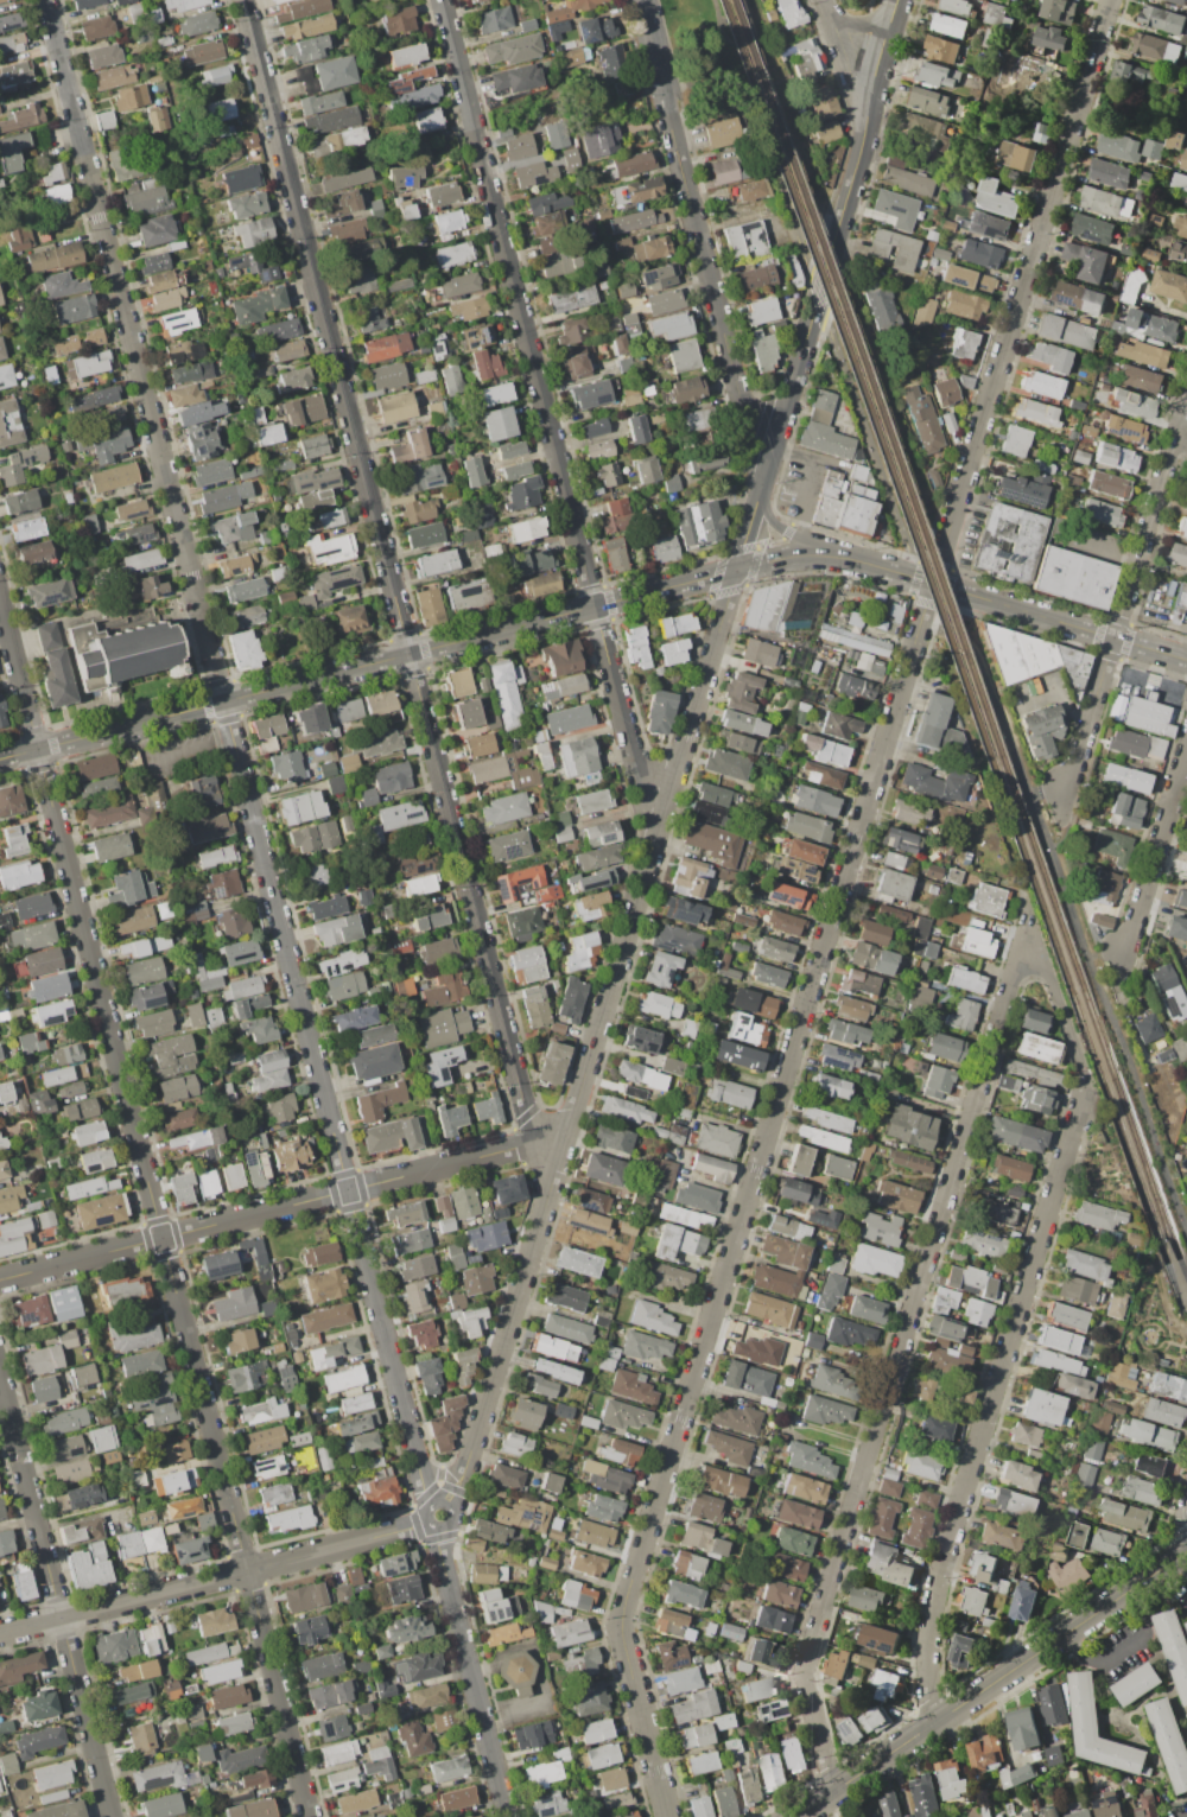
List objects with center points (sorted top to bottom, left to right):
building: (2, 0)
building: (122, 1)
building: (279, 1)
building: (476, 1)
building: (1176, 1)
building: (87, 4)
building: (191, 4)
road: (893, 6)
building: (956, 7)
building: (137, 8)
building: (304, 8)
road: (826, 8)
building: (570, 9)
building: (1058, 12)
building: (1186, 12)
building: (157, 14)
building: (791, 14)
building: (770, 15)
building: (994, 17)
building: (15, 20)
building: (494, 20)
building: (1162, 20)
building: (399, 21)
building: (198, 23)
building: (527, 25)
road: (861, 25)
building: (307, 26)
building: (560, 26)
building: (948, 26)
building: (97, 28)
building: (596, 28)
road: (736, 39)
building: (988, 39)
building: (1052, 39)
building: (165, 42)
building: (12, 45)
building: (307, 49)
building: (1156, 49)
building: (514, 50)
building: (941, 50)
road: (1094, 50)
building: (203, 52)
building: (406, 55)
park: (723, 55)
building: (103, 56)
building: (572, 56)
road: (712, 57)
road: (658, 61)
building: (806, 62)
road: (876, 62)
building: (610, 63)
road: (457, 64)
road: (848, 65)
building: (1029, 72)
building: (335, 74)
building: (1130, 74)
building: (14, 75)
building: (935, 75)
building: (216, 76)
building: (113, 77)
building: (516, 77)
road: (262, 78)
building: (155, 80)
building: (399, 85)
building: (621, 88)
road: (66, 90)
building: (1172, 91)
building: (132, 96)
building: (926, 101)
building: (320, 102)
building: (823, 102)
building: (221, 109)
building: (21, 117)
building: (332, 119)
building: (106, 120)
building: (158, 120)
building: (425, 120)
building: (719, 129)
building: (223, 131)
building: (825, 131)
building: (929, 132)
building: (1040, 134)
building: (554, 135)
building: (598, 139)
building: (1172, 139)
building: (249, 140)
building: (336, 141)
building: (1116, 146)
building: (518, 147)
building: (1150, 148)
building: (11, 151)
building: (1015, 157)
building: (569, 158)
building: (1183, 160)
building: (629, 164)
building: (125, 165)
building: (723, 171)
building: (53, 172)
park: (789, 172)
building: (532, 173)
building: (1107, 173)
building: (405, 176)
building: (1144, 176)
building: (241, 178)
building: (344, 179)
building: (908, 180)
building: (1178, 182)
building: (0, 183)
building: (634, 190)
building: (751, 190)
building: (442, 193)
building: (56, 195)
building: (1140, 195)
building: (994, 197)
building: (146, 199)
building: (339, 203)
building: (545, 203)
building: (1107, 204)
building: (246, 205)
building: (893, 208)
building: (405, 209)
building: (602, 214)
building: (45, 218)
rooftop solar panel: (1156, 218)
building: (1153, 220)
building: (631, 221)
building: (446, 222)
building: (545, 223)
building: (946, 225)
building: (984, 225)
building: (1180, 225)
building: (1092, 229)
building: (155, 230)
building: (252, 230)
building: (452, 234)
building: (929, 235)
building: (19, 239)
building: (353, 241)
building: (744, 241)
building: (621, 243)
building: (174, 244)
building: (649, 247)
building: (1125, 248)
building: (1176, 250)
building: (907, 252)
building: (453, 254)
building: (939, 254)
building: (979, 254)
building: (1149, 255)
building: (55, 258)
rooftop solar panel: (233, 261)
building: (931, 261)
building: (1086, 261)
building: (557, 262)
building: (154, 263)
building: (252, 266)
rooftop solar panel: (264, 274)
rooftop solar panel: (645, 275)
building: (656, 275)
building: (754, 278)
building: (966, 279)
building: (161, 280)
rooftop solar panel: (954, 280)
building: (358, 281)
building: (398, 284)
building: (61, 285)
building: (459, 285)
building: (1112, 285)
building: (1130, 285)
building: (1168, 285)
rooftop solar panel: (980, 286)
building: (623, 290)
road: (711, 290)
building: (1077, 298)
building: (166, 299)
building: (571, 299)
rooftop solar panel: (1062, 299)
building: (662, 300)
building: (0, 301)
building: (0, 304)
road: (814, 304)
building: (256, 305)
building: (963, 305)
building: (72, 309)
building: (468, 309)
building: (881, 309)
building: (760, 311)
building: (921, 312)
rooftop solar panel: (173, 313)
building: (627, 318)
building: (368, 319)
building: (1083, 320)
building: (176, 322)
rooftop solar panel: (180, 324)
building: (668, 325)
building: (1144, 326)
building: (279, 330)
building: (630, 330)
building: (570, 331)
building: (1066, 332)
rooftop solar panel: (482, 333)
building: (475, 336)
building: (93, 337)
rooftop solar panel: (477, 338)
building: (617, 343)
building: (963, 343)
building: (64, 345)
building: (385, 347)
building: (438, 347)
building: (288, 350)
building: (1, 352)
building: (183, 352)
building: (762, 352)
building: (1143, 354)
building: (681, 355)
building: (1049, 357)
building: (575, 362)
building: (85, 364)
building: (483, 364)
building: (191, 371)
building: (255, 374)
building: (386, 375)
building: (5, 376)
building: (424, 376)
railway: (868, 379)
building: (1140, 379)
building: (293, 380)
building: (451, 380)
railway: (856, 380)
building: (1104, 380)
building: (647, 381)
building: (964, 381)
building: (1042, 385)
building: (1102, 387)
building: (646, 389)
building: (684, 389)
building: (944, 392)
building: (589, 393)
building: (186, 394)
building: (494, 394)
rooftop solar panel: (596, 398)
building: (93, 399)
building: (1131, 402)
building: (1074, 405)
building: (394, 407)
building: (301, 409)
building: (436, 411)
building: (199, 412)
building: (1036, 412)
building: (102, 414)
building: (255, 417)
building: (654, 418)
park: (878, 418)
building: (693, 420)
building: (947, 421)
building: (8, 424)
building: (497, 424)
building: (923, 424)
building: (592, 427)
building: (823, 427)
building: (636, 428)
building: (1123, 428)
building: (1087, 430)
rooftop solar panel: (1121, 432)
building: (267, 434)
building: (1071, 434)
building: (199, 440)
building: (1015, 440)
road: (1180, 440)
building: (103, 443)
building: (64, 446)
building: (313, 446)
building: (408, 447)
building: (598, 449)
building: (508, 450)
building: (1079, 456)
building: (1115, 457)
building: (704, 462)
building: (20, 464)
building: (1041, 466)
building: (645, 469)
building: (515, 470)
road: (560, 471)
building: (210, 472)
building: (471, 472)
building: (246, 474)
building: (607, 474)
road: (817, 476)
building: (112, 477)
building: (419, 478)
building: (312, 479)
rooftop solar panel: (329, 481)
rooftop solar panel: (432, 481)
rooftop solar panel: (320, 483)
building: (669, 483)
rooftop solar panel: (303, 484)
rooftop solar panel: (317, 484)
building: (1106, 484)
building: (1022, 488)
building: (446, 493)
building: (521, 493)
rooftop solar panel: (1001, 495)
rooftop solar panel: (1018, 496)
building: (224, 497)
building: (829, 498)
building: (313, 500)
building: (19, 501)
rooftop solar panel: (1030, 501)
building: (1186, 506)
building: (131, 509)
building: (787, 509)
building: (418, 510)
building: (855, 512)
building: (1100, 512)
building: (481, 515)
building: (615, 515)
building: (328, 520)
building: (697, 523)
building: (87, 525)
building: (231, 527)
building: (1182, 528)
building: (26, 529)
building: (525, 529)
road: (745, 532)
building: (133, 534)
building: (423, 535)
building: (266, 536)
road: (799, 539)
traffic signals: (743, 544)
building: (1007, 544)
building: (329, 547)
building: (662, 548)
road: (1096, 552)
building: (31, 553)
building: (612, 553)
building: (1175, 554)
road: (796, 558)
building: (139, 560)
building: (433, 563)
building: (528, 563)
building: (233, 566)
building: (278, 574)
building: (102, 576)
building: (1073, 577)
building: (334, 579)
building: (538, 585)
building: (150, 587)
building: (243, 590)
rooftop solar panel: (465, 590)
road: (1128, 591)
building: (49, 592)
building: (466, 597)
traffic signals: (728, 597)
building: (284, 598)
building: (304, 603)
building: (1178, 603)
building: (763, 606)
building: (427, 608)
road: (1022, 610)
building: (248, 615)
road: (954, 616)
building: (349, 620)
building: (675, 624)
building: (852, 640)
building: (635, 647)
building: (241, 649)
building: (672, 650)
building: (757, 653)
building: (1002, 653)
building: (1033, 653)
building: (127, 654)
building: (560, 656)
road: (411, 660)
building: (865, 662)
road: (368, 665)
building: (812, 666)
building: (53, 668)
building: (1071, 668)
building: (656, 671)
building: (458, 682)
building: (788, 682)
building: (853, 686)
building: (561, 687)
building: (503, 691)
building: (738, 691)
building: (826, 698)
building: (377, 701)
building: (801, 706)
building: (348, 710)
building: (659, 711)
building: (466, 713)
building: (1145, 714)
building: (1, 717)
building: (309, 717)
building: (798, 717)
building: (565, 718)
building: (290, 720)
building: (491, 722)
building: (741, 723)
building: (838, 725)
building: (332, 730)
building: (1039, 730)
building: (939, 731)
building: (266, 732)
building: (379, 742)
building: (736, 742)
building: (1135, 744)
building: (477, 745)
building: (775, 750)
building: (825, 750)
parking lot: (178, 755)
building: (541, 756)
building: (577, 756)
building: (132, 758)
road: (170, 760)
road: (979, 762)
building: (724, 763)
building: (286, 765)
building: (93, 767)
building: (345, 767)
building: (326, 768)
building: (502, 769)
building: (823, 775)
building: (389, 777)
building: (1124, 779)
building: (935, 782)
building: (335, 784)
building: (97, 786)
building: (203, 790)
road: (1045, 790)
building: (712, 794)
building: (366, 796)
building: (9, 799)
building: (591, 801)
building: (813, 801)
building: (150, 802)
building: (300, 808)
building: (504, 808)
building: (1124, 809)
building: (108, 812)
building: (909, 812)
building: (706, 813)
building: (400, 814)
rooftop solar panel: (412, 814)
building: (560, 820)
building: (345, 822)
building: (805, 827)
building: (207, 828)
rooftop solar panel: (220, 828)
building: (599, 833)
building: (561, 834)
building: (372, 836)
building: (312, 837)
building: (13, 839)
building: (897, 839)
road: (259, 840)
building: (712, 843)
building: (506, 845)
building: (1111, 845)
road: (1156, 846)
building: (109, 847)
rooftop solar panel: (509, 851)
building: (800, 851)
building: (216, 856)
building: (595, 856)
building: (891, 859)
park: (1041, 862)
building: (414, 863)
building: (1185, 865)
building: (793, 870)
building: (932, 871)
building: (18, 873)
building: (311, 875)
building: (176, 876)
building: (687, 876)
building: (952, 876)
rooftop solar panel: (521, 881)
building: (589, 881)
building: (516, 882)
building: (222, 883)
building: (419, 884)
rooftop solar panel: (533, 884)
building: (1105, 884)
building: (890, 885)
building: (127, 889)
rooftop solar panel: (501, 890)
rooftop solar panel: (514, 891)
rooftop solar panel: (217, 892)
building: (753, 894)
building: (788, 895)
building: (364, 897)
railway: (1050, 897)
building: (988, 898)
building: (1180, 898)
railway: (1039, 901)
building: (31, 906)
building: (590, 906)
building: (325, 907)
building: (164, 909)
building: (389, 910)
building: (680, 910)
building: (926, 910)
building: (890, 913)
building: (191, 914)
rooftop solar panel: (679, 915)
building: (427, 916)
building: (132, 920)
building: (1099, 920)
building: (4, 921)
building: (742, 921)
building: (783, 922)
building: (231, 923)
building: (521, 923)
building: (920, 928)
building: (1175, 928)
building: (335, 929)
building: (871, 932)
building: (30, 935)
building: (674, 939)
building: (977, 942)
building: (144, 945)
building: (399, 946)
building: (737, 946)
building: (774, 948)
building: (915, 948)
building: (928, 948)
building: (437, 949)
building: (579, 951)
building: (239, 952)
road: (1103, 953)
road: (820, 957)
building: (871, 958)
building: (341, 961)
building: (37, 962)
building: (527, 965)
building: (724, 966)
building: (921, 967)
building: (659, 968)
building: (142, 971)
building: (204, 973)
building: (767, 974)
building: (921, 980)
building: (964, 980)
building: (858, 981)
building: (45, 986)
building: (342, 986)
building: (404, 986)
building: (241, 987)
building: (443, 990)
building: (4, 991)
building: (1168, 992)
building: (147, 995)
building: (918, 997)
building: (570, 999)
building: (751, 1002)
rooftop solar panel: (152, 1004)
building: (247, 1004)
building: (656, 1005)
building: (534, 1006)
rooftop solar panel: (1169, 1006)
building: (850, 1008)
road: (1060, 1008)
building: (50, 1012)
rooftop solar panel: (65, 1012)
building: (13, 1014)
building: (960, 1015)
building: (192, 1016)
building: (211, 1016)
building: (353, 1017)
building: (1032, 1019)
rooftop solar panel: (50, 1021)
building: (152, 1023)
building: (440, 1027)
building: (258, 1028)
building: (1147, 1028)
building: (745, 1029)
building: (843, 1031)
building: (369, 1036)
road: (597, 1036)
building: (640, 1040)
building: (28, 1042)
building: (944, 1046)
building: (1036, 1048)
building: (1179, 1049)
building: (64, 1054)
rooftop solar panel: (844, 1054)
building: (169, 1055)
building: (736, 1055)
building: (1162, 1055)
building: (837, 1056)
building: (0, 1057)
building: (233, 1057)
building: (268, 1060)
building: (372, 1062)
building: (551, 1062)
rooftop solar panel: (833, 1062)
building: (439, 1065)
building: (671, 1066)
building: (1032, 1070)
building: (62, 1074)
building: (640, 1074)
building: (867, 1075)
building: (268, 1080)
building: (937, 1081)
building: (483, 1082)
building: (1007, 1082)
building: (827, 1085)
building: (177, 1087)
building: (70, 1088)
building: (633, 1092)
building: (888, 1092)
building: (5, 1093)
building: (726, 1093)
building: (685, 1099)
building: (1035, 1099)
building: (38, 1101)
building: (379, 1101)
road: (1081, 1103)
building: (19, 1106)
building: (171, 1107)
building: (278, 1107)
building: (487, 1108)
building: (77, 1110)
building: (623, 1110)
building: (449, 1118)
building: (179, 1119)
building: (827, 1119)
building: (907, 1126)
building: (249, 1130)
building: (87, 1132)
building: (284, 1132)
building: (658, 1132)
building: (228, 1133)
building: (674, 1133)
building: (1014, 1133)
building: (391, 1136)
building: (195, 1138)
building: (611, 1138)
building: (821, 1138)
building: (715, 1139)
building: (2, 1143)
railway: (1140, 1149)
railway: (1129, 1152)
building: (6, 1154)
building: (210, 1154)
building: (288, 1155)
rooftop solar panel: (247, 1157)
building: (798, 1160)
building: (93, 1161)
building: (908, 1161)
building: (52, 1163)
rooftop solar panel: (93, 1167)
building: (711, 1167)
building: (836, 1167)
building: (1008, 1167)
building: (254, 1168)
building: (2, 1169)
building: (605, 1169)
building: (661, 1175)
building: (230, 1176)
building: (205, 1183)
building: (88, 1187)
building: (180, 1188)
building: (506, 1188)
building: (796, 1190)
building: (1013, 1192)
building: (895, 1196)
building: (9, 1197)
building: (696, 1197)
building: (589, 1199)
building: (463, 1202)
building: (442, 1205)
building: (32, 1206)
rooftop solar panel: (586, 1207)
road: (154, 1208)
road: (280, 1208)
building: (100, 1211)
building: (405, 1213)
building: (483, 1213)
building: (497, 1213)
building: (996, 1213)
building: (681, 1215)
building: (1096, 1215)
building: (823, 1218)
building: (44, 1219)
rooftop solar panel: (99, 1220)
building: (588, 1221)
building: (445, 1225)
building: (627, 1227)
building: (787, 1227)
building: (878, 1230)
building: (13, 1233)
building: (484, 1235)
building: (1134, 1239)
building: (673, 1240)
building: (408, 1241)
building: (979, 1241)
building: (451, 1249)
building: (785, 1251)
building: (319, 1253)
building: (255, 1256)
building: (874, 1259)
building: (456, 1262)
building: (577, 1262)
building: (217, 1264)
building: (833, 1264)
building: (1083, 1264)
building: (996, 1266)
building: (414, 1268)
building: (664, 1276)
building: (475, 1278)
building: (777, 1281)
building: (971, 1282)
building: (323, 1285)
building: (1075, 1289)
building: (827, 1290)
building: (119, 1291)
building: (413, 1297)
building: (565, 1297)
building: (455, 1301)
building: (942, 1301)
building: (62, 1302)
building: (233, 1303)
building: (1115, 1304)
building: (267, 1308)
building: (769, 1309)
building: (864, 1309)
building: (27, 1311)
building: (976, 1311)
rooftop solar panel: (25, 1316)
building: (1065, 1316)
building: (325, 1317)
building: (650, 1317)
building: (601, 1319)
building: (470, 1320)
building: (941, 1327)
building: (566, 1328)
building: (844, 1332)
building: (420, 1333)
building: (288, 1334)
building: (129, 1335)
building: (982, 1336)
building: (65, 1339)
building: (237, 1339)
building: (1058, 1339)
building: (811, 1340)
building: (938, 1342)
building: (642, 1346)
building: (275, 1347)
building: (552, 1347)
building: (757, 1349)
building: (963, 1349)
building: (332, 1352)
building: (609, 1352)
building: (296, 1357)
building: (39, 1359)
building: (1054, 1361)
road: (894, 1362)
building: (946, 1362)
building: (140, 1364)
building: (604, 1364)
building: (462, 1365)
rooftop solar panel: (240, 1370)
building: (553, 1370)
building: (427, 1374)
building: (1117, 1376)
building: (78, 1377)
building: (246, 1377)
building: (159, 1378)
building: (343, 1378)
building: (285, 1379)
building: (747, 1380)
rooftop solar panel: (243, 1381)
building: (831, 1381)
building: (539, 1385)
building: (1072, 1385)
building: (1167, 1386)
building: (631, 1387)
building: (920, 1387)
building: (43, 1390)
building: (347, 1392)
building: (964, 1396)
building: (151, 1397)
building: (354, 1403)
building: (1041, 1408)
building: (1111, 1408)
building: (561, 1410)
building: (823, 1410)
building: (260, 1411)
building: (1160, 1412)
building: (523, 1413)
building: (158, 1415)
building: (621, 1415)
building: (736, 1418)
building: (100, 1419)
building: (63, 1421)
building: (355, 1422)
building: (588, 1422)
road: (983, 1422)
building: (444, 1423)
building: (1099, 1423)
building: (932, 1429)
building: (1023, 1434)
building: (1148, 1435)
building: (100, 1437)
building: (262, 1438)
building: (298, 1438)
building: (357, 1443)
building: (514, 1444)
building: (64, 1447)
building: (728, 1447)
building: (1091, 1448)
rooftop solar panel: (74, 1451)
building: (172, 1451)
building: (617, 1451)
building: (109, 1456)
building: (1033, 1456)
building: (323, 1457)
building: (807, 1460)
building: (373, 1462)
rooftop solar panel: (260, 1465)
building: (920, 1465)
building: (1147, 1465)
building: (309, 1466)
building: (267, 1467)
building: (71, 1472)
building: (888, 1473)
building: (1014, 1475)
building: (1083, 1475)
building: (504, 1476)
building: (604, 1476)
building: (135, 1479)
building: (171, 1481)
building: (718, 1481)
building: (550, 1482)
building: (888, 1487)
building: (802, 1488)
building: (319, 1489)
building: (1141, 1489)
building: (376, 1492)
building: (273, 1493)
building: (497, 1493)
building: (75, 1497)
road: (30, 1499)
building: (925, 1499)
building: (1010, 1501)
road: (424, 1505)
building: (183, 1506)
building: (602, 1507)
building: (703, 1507)
building: (1, 1512)
building: (795, 1513)
building: (523, 1514)
building: (1124, 1514)
building: (145, 1517)
building: (880, 1517)
building: (288, 1518)
building: (203, 1520)
building: (915, 1527)
building: (80, 1530)
building: (489, 1530)
building: (553, 1530)
building: (591, 1532)
building: (999, 1533)
building: (1077, 1535)
building: (699, 1538)
building: (148, 1539)
building: (792, 1540)
building: (5, 1542)
building: (1106, 1542)
building: (126, 1544)
building: (472, 1544)
building: (186, 1550)
building: (1056, 1552)
building: (545, 1562)
building: (394, 1563)
building: (585, 1563)
building: (886, 1564)
building: (980, 1564)
building: (685, 1565)
building: (782, 1565)
building: (87, 1567)
road: (1180, 1570)
building: (487, 1574)
building: (1066, 1574)
building: (353, 1576)
road: (211, 1580)
building: (23, 1582)
building: (357, 1588)
building: (400, 1588)
building: (779, 1593)
building: (575, 1594)
building: (680, 1594)
building: (342, 1596)
building: (303, 1597)
building: (864, 1597)
parking lot: (1181, 1597)
building: (972, 1600)
building: (1021, 1601)
building: (495, 1605)
rooftop solar panel: (503, 1612)
building: (541, 1612)
rooftop solar panel: (495, 1613)
rooftop solar panel: (485, 1614)
building: (770, 1619)
building: (211, 1621)
building: (166, 1622)
building: (669, 1622)
building: (1186, 1622)
building: (837, 1624)
building: (1186, 1624)
building: (959, 1625)
building: (309, 1628)
building: (406, 1628)
building: (730, 1631)
building: (567, 1632)
building: (503, 1633)
building: (877, 1638)
building: (150, 1639)
building: (113, 1646)
building: (1174, 1647)
building: (381, 1651)
building: (959, 1651)
road: (1079, 1651)
road: (1121, 1651)
building: (208, 1653)
building: (763, 1654)
building: (551, 1656)
building: (669, 1656)
building: (853, 1657)
building: (865, 1660)
building: (579, 1663)
rooftop solar panel: (677, 1664)
building: (415, 1665)
building: (18, 1666)
building: (319, 1666)
building: (741, 1666)
building: (355, 1667)
building: (833, 1667)
building: (135, 1670)
building: (218, 1671)
building: (514, 1671)
road: (470, 1675)
building: (679, 1679)
road: (990, 1683)
building: (884, 1684)
building: (1137, 1684)
building: (185, 1688)
building: (382, 1688)
building: (757, 1689)
building: (170, 1690)
building: (131, 1692)
building: (329, 1692)
building: (227, 1696)
building: (425, 1696)
building: (589, 1700)
building: (37, 1704)
building: (1052, 1705)
building: (1083, 1705)
building: (692, 1707)
building: (772, 1710)
building: (191, 1711)
building: (125, 1713)
building: (1186, 1714)
road: (85, 1717)
building: (177, 1717)
building: (870, 1718)
building: (391, 1720)
building: (444, 1720)
building: (721, 1721)
building: (231, 1723)
building: (195, 1724)
building: (5, 1726)
building: (331, 1727)
building: (1021, 1728)
building: (780, 1729)
rooftop solar panel: (844, 1729)
building: (593, 1730)
building: (848, 1732)
building: (531, 1735)
building: (693, 1735)
building: (413, 1737)
building: (139, 1739)
building: (38, 1740)
building: (1169, 1742)
building: (730, 1751)
building: (337, 1752)
building: (377, 1752)
building: (983, 1752)
building: (199, 1754)
building: (793, 1754)
building: (599, 1755)
building: (1053, 1755)
building: (239, 1759)
building: (7, 1762)
building: (699, 1762)
building: (377, 1767)
building: (447, 1768)
building: (546, 1770)
building: (770, 1771)
building: (50, 1774)
building: (1015, 1774)
building: (163, 1775)
building: (725, 1775)
building: (203, 1778)
building: (609, 1778)
building: (252, 1779)
building: (341, 1779)
building: (948, 1779)
rooftop solar panel: (157, 1784)
building: (747, 1786)
building: (420, 1789)
building: (0, 1790)
building: (51, 1796)
building: (237, 1796)
building: (922, 1797)
building: (455, 1798)
building: (355, 1800)
rooftop solar panel: (545, 1800)
building: (615, 1800)
building: (722, 1802)
rooftop solar panel: (1113, 1803)
building: (547, 1804)
building: (1104, 1804)
building: (160, 1805)
building: (889, 1805)
building: (1034, 1805)
rooftop solar panel: (1097, 1805)
building: (1145, 1805)
building: (699, 1808)
building: (250, 1809)
building: (870, 1809)
building: (1008, 1809)
building: (58, 1810)
building: (1049, 1811)
building: (4, 1812)
building: (983, 1812)
building: (1024, 1813)
building: (1077, 1813)
rooftop solar panel: (546, 1815)
building: (624, 1815)
building: (375, 1816)
building: (474, 1816)
building: (908, 1816)

